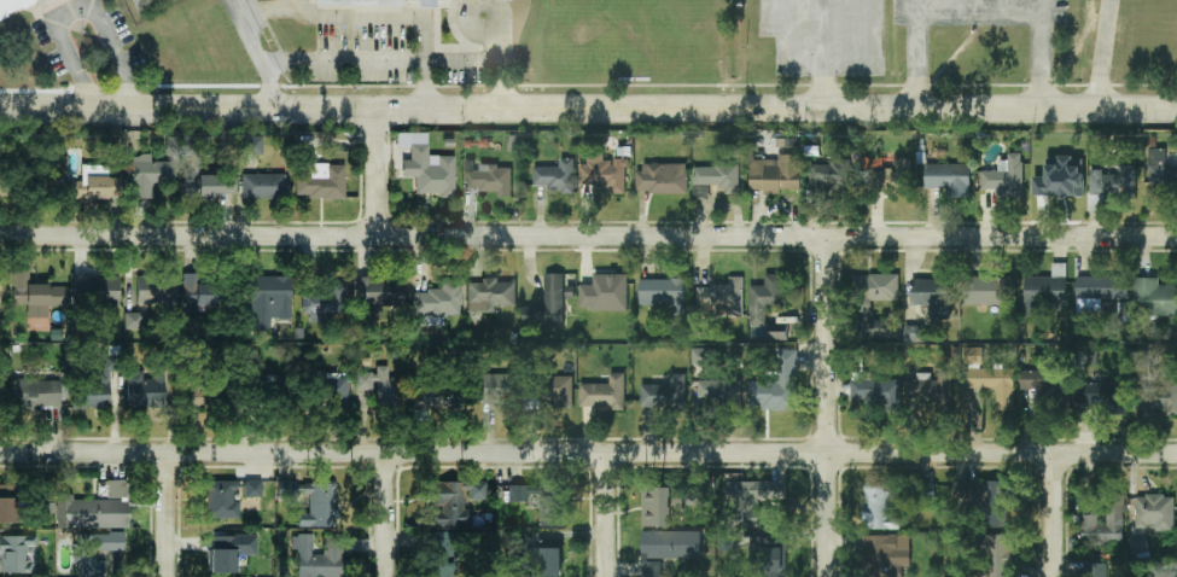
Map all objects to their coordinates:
building: (431, 0)
building: (144, 4)
building: (19, 5)
road: (468, 7)
road: (83, 8)
road: (957, 8)
road: (1009, 8)
parking lot: (977, 13)
road: (981, 17)
road: (391, 18)
parking lot: (825, 40)
road: (505, 52)
road: (822, 53)
road: (917, 53)
road: (1044, 53)
road: (1106, 53)
road: (256, 54)
road: (344, 63)
road: (588, 107)
building: (252, 145)
building: (153, 170)
building: (429, 171)
road: (378, 173)
building: (602, 173)
building: (1160, 173)
building: (776, 174)
building: (832, 174)
building: (557, 176)
building: (4, 177)
building: (891, 177)
building: (1004, 177)
building: (489, 179)
building: (663, 179)
building: (716, 179)
building: (948, 179)
building: (1061, 179)
building: (320, 180)
building: (99, 182)
building: (1114, 182)
building: (263, 185)
building: (202, 186)
road: (588, 237)
building: (94, 285)
building: (875, 286)
building: (156, 288)
building: (379, 291)
building: (987, 291)
building: (1044, 291)
building: (200, 293)
building: (605, 293)
building: (663, 293)
building: (35, 295)
building: (489, 295)
building: (933, 296)
building: (1101, 296)
building: (272, 297)
building: (438, 297)
building: (1153, 297)
building: (721, 298)
building: (326, 303)
building: (550, 303)
building: (767, 307)
building: (133, 320)
building: (914, 333)
building: (704, 355)
building: (973, 355)
building: (995, 384)
building: (380, 385)
building: (777, 385)
building: (1048, 386)
building: (144, 389)
building: (497, 389)
building: (930, 390)
building: (92, 391)
building: (334, 391)
building: (559, 391)
building: (605, 392)
building: (875, 392)
building: (36, 394)
building: (212, 394)
building: (665, 394)
building: (718, 394)
building: (1159, 396)
building: (436, 397)
building: (1106, 398)
road: (825, 408)
road: (588, 455)
building: (116, 488)
building: (251, 488)
building: (926, 493)
building: (222, 499)
building: (759, 500)
building: (454, 501)
building: (320, 506)
building: (660, 506)
building: (879, 507)
building: (8, 509)
building: (91, 512)
building: (1155, 512)
road: (168, 515)
road: (390, 515)
road: (606, 515)
road: (1056, 517)
building: (1105, 525)
building: (671, 544)
building: (1138, 544)
building: (229, 550)
building: (887, 550)
building: (16, 553)
building: (770, 554)
building: (83, 555)
building: (444, 555)
building: (1000, 555)
building: (315, 559)
building: (549, 561)
building: (652, 570)
building: (1100, 570)

